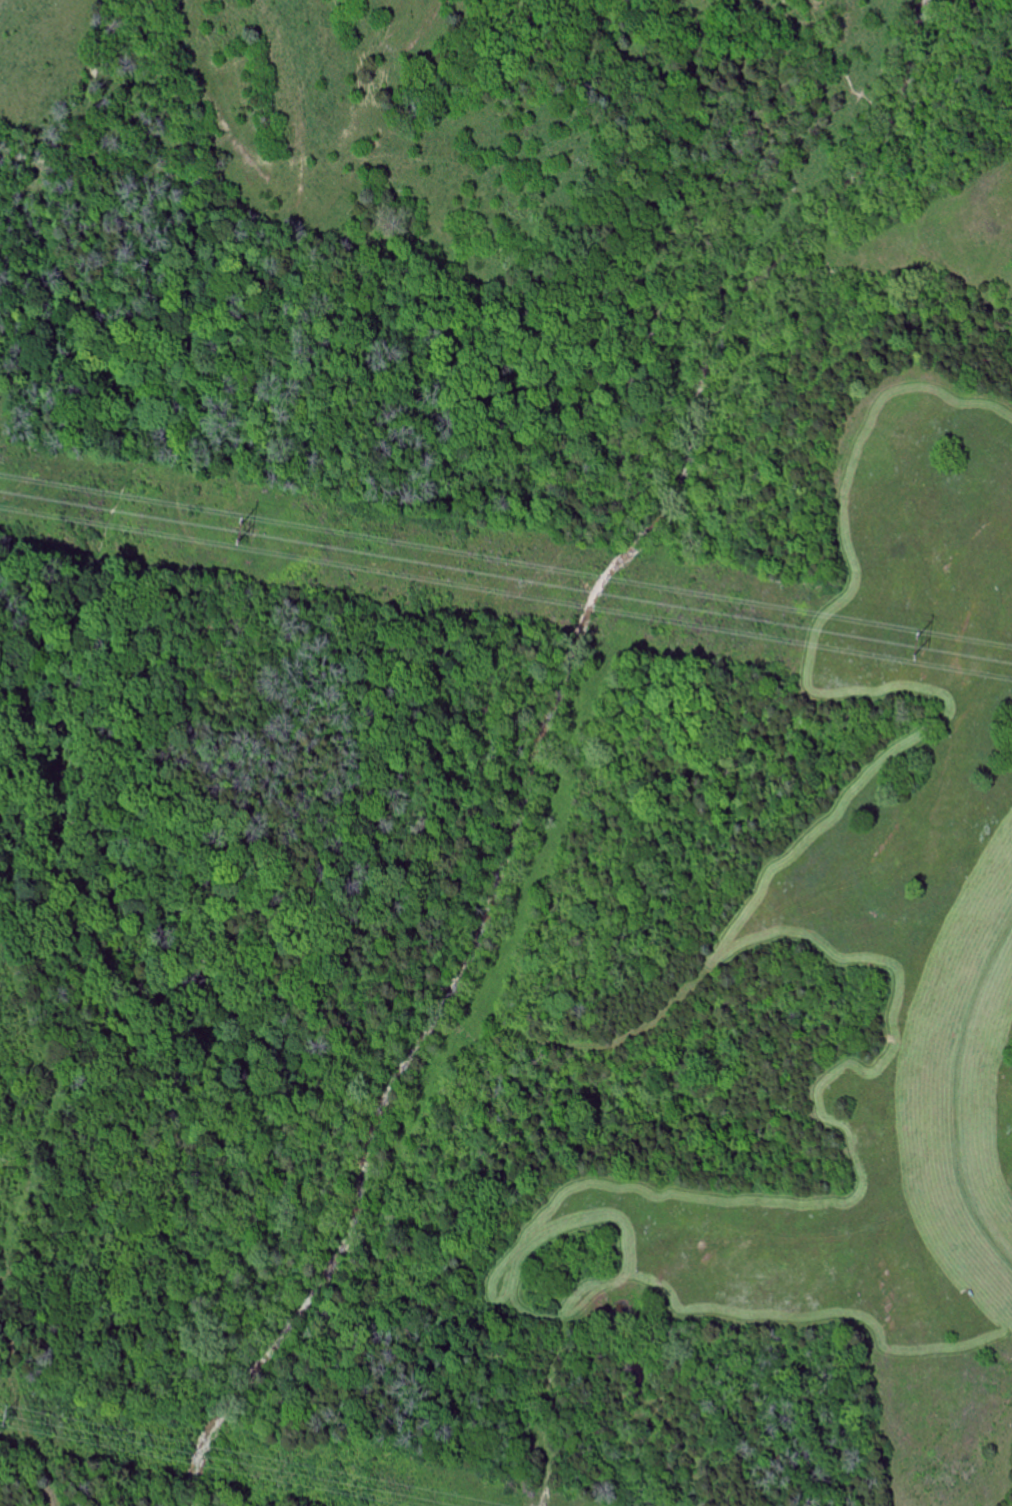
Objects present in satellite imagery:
power tower: (241, 526)
power tower: (915, 644)
road: (971, 1076)
power tower: (5, 1411)

